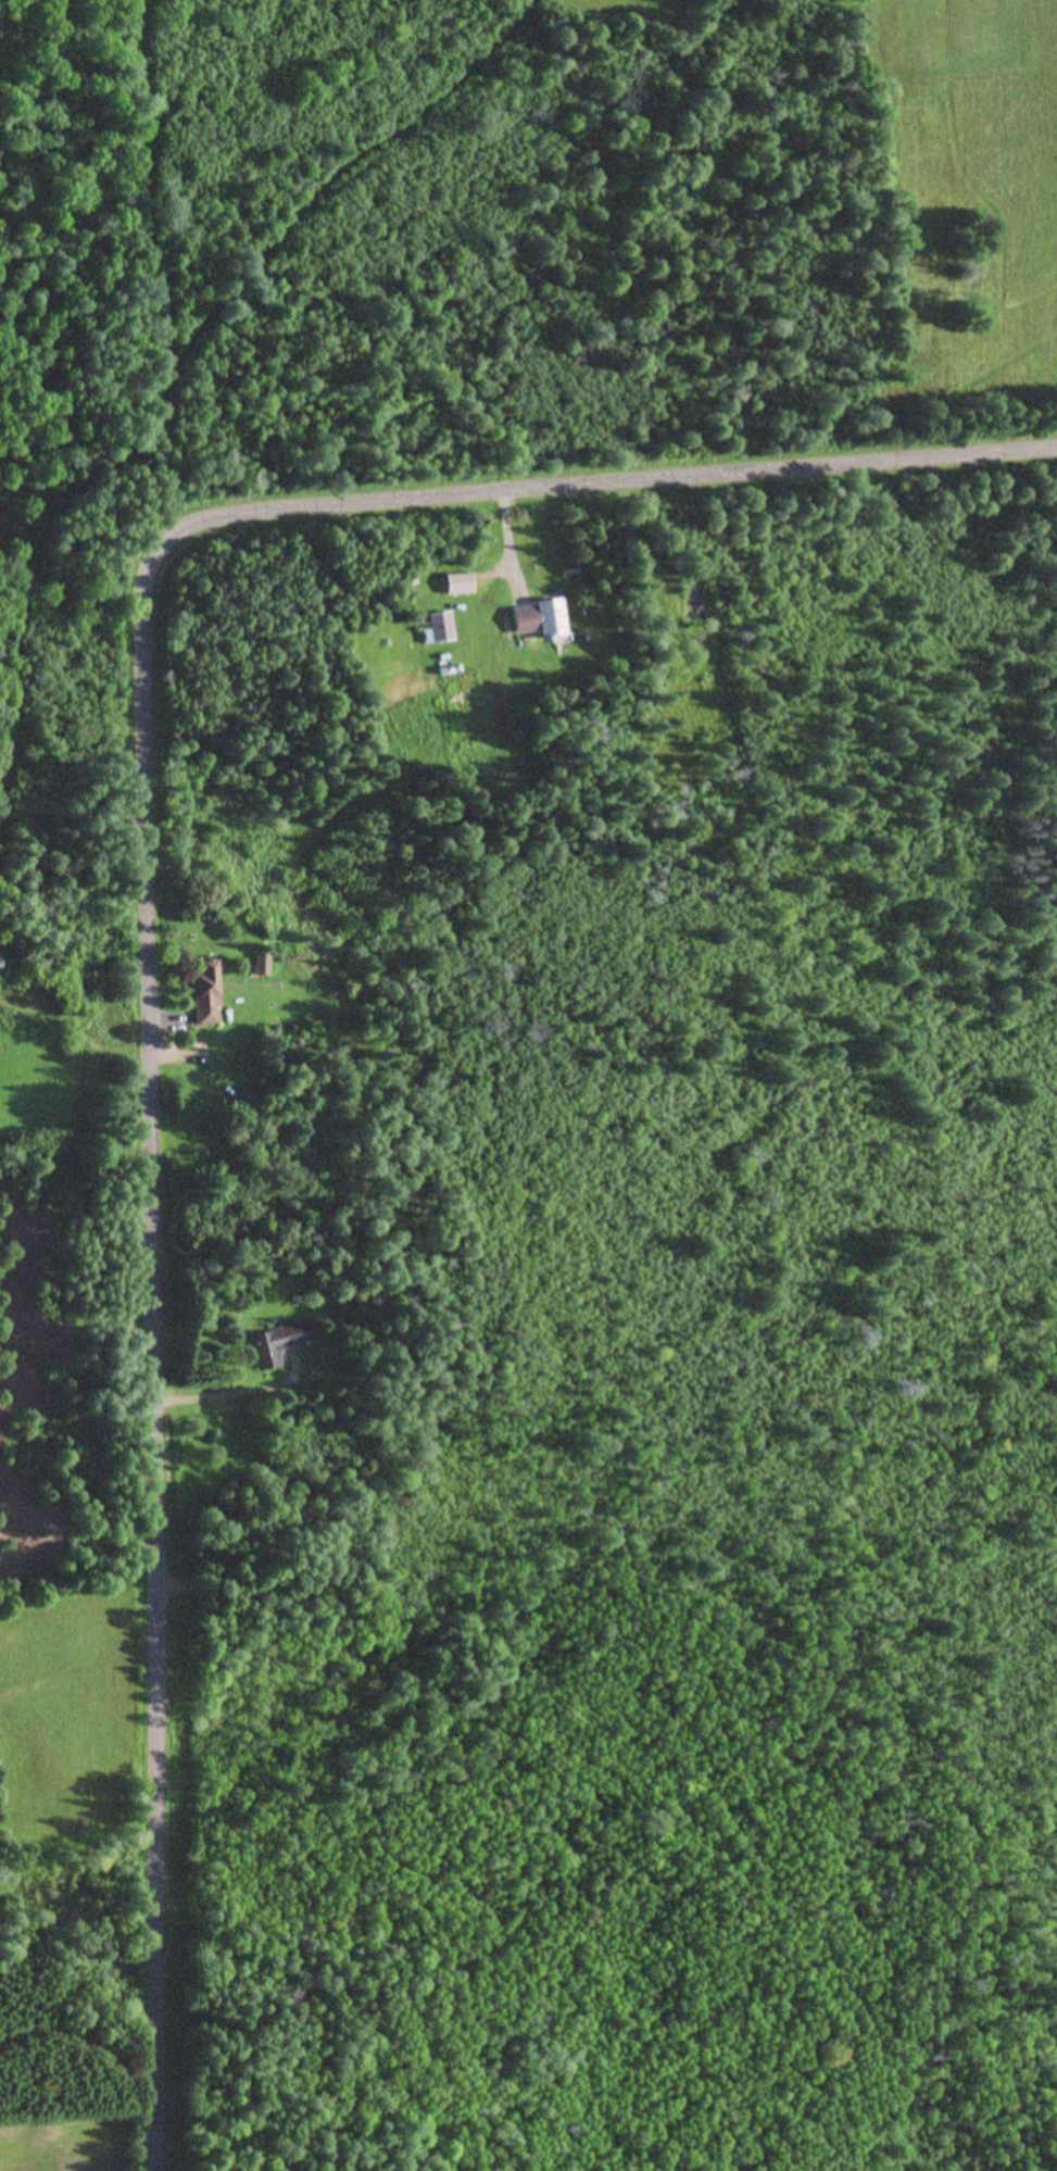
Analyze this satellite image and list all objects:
building: (457, 583)
building: (537, 617)
building: (439, 626)
road: (129, 891)
building: (205, 992)
building: (276, 1342)

